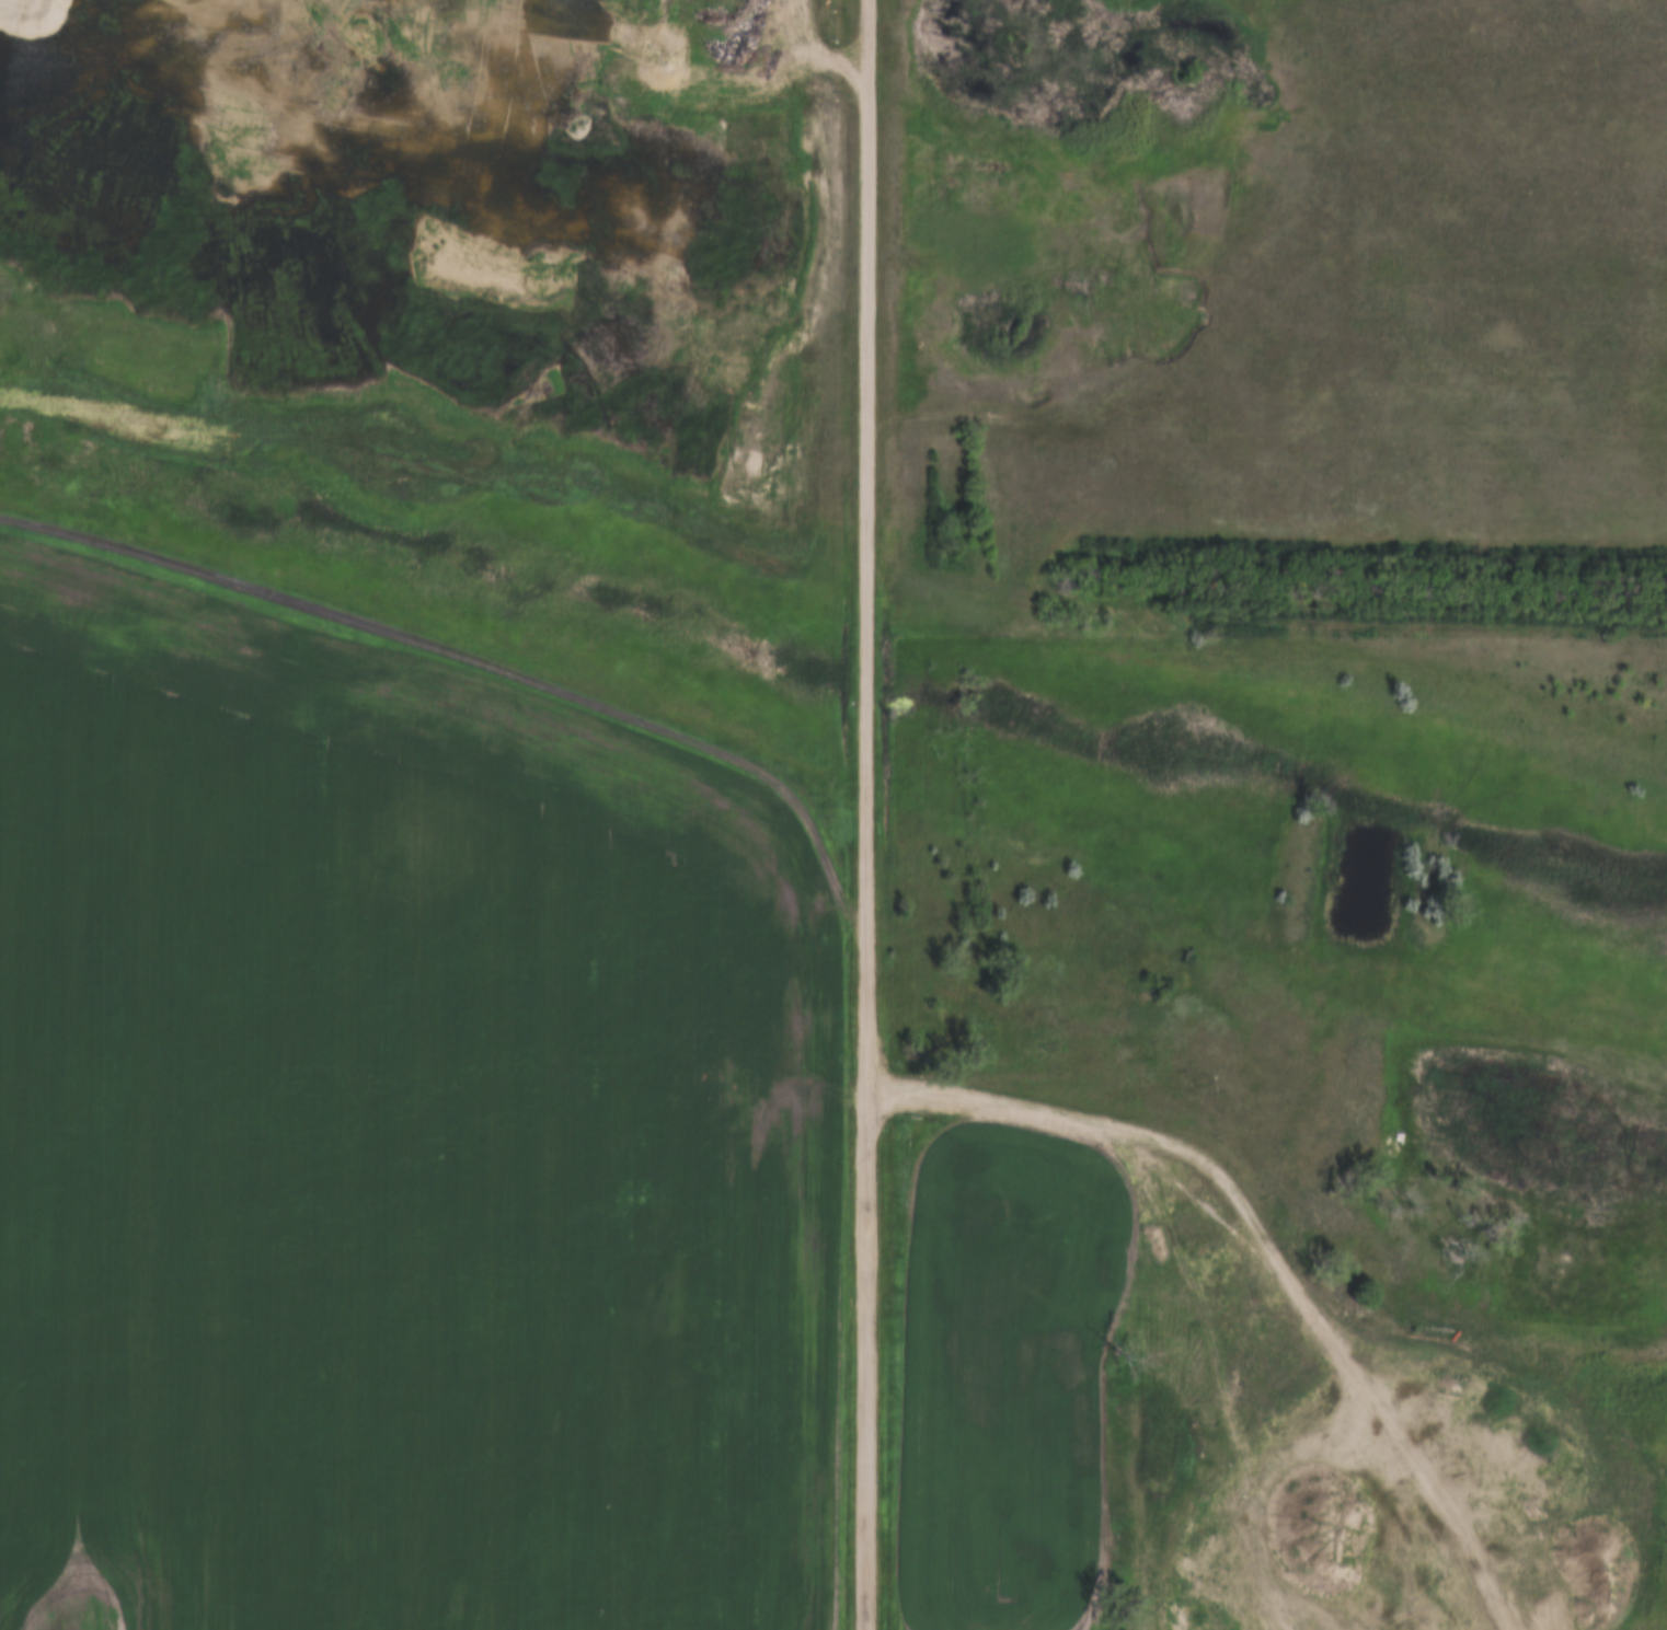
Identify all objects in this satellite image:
road: (432, 43)
quarry: (456, 219)
road: (865, 814)
road: (1251, 1180)

